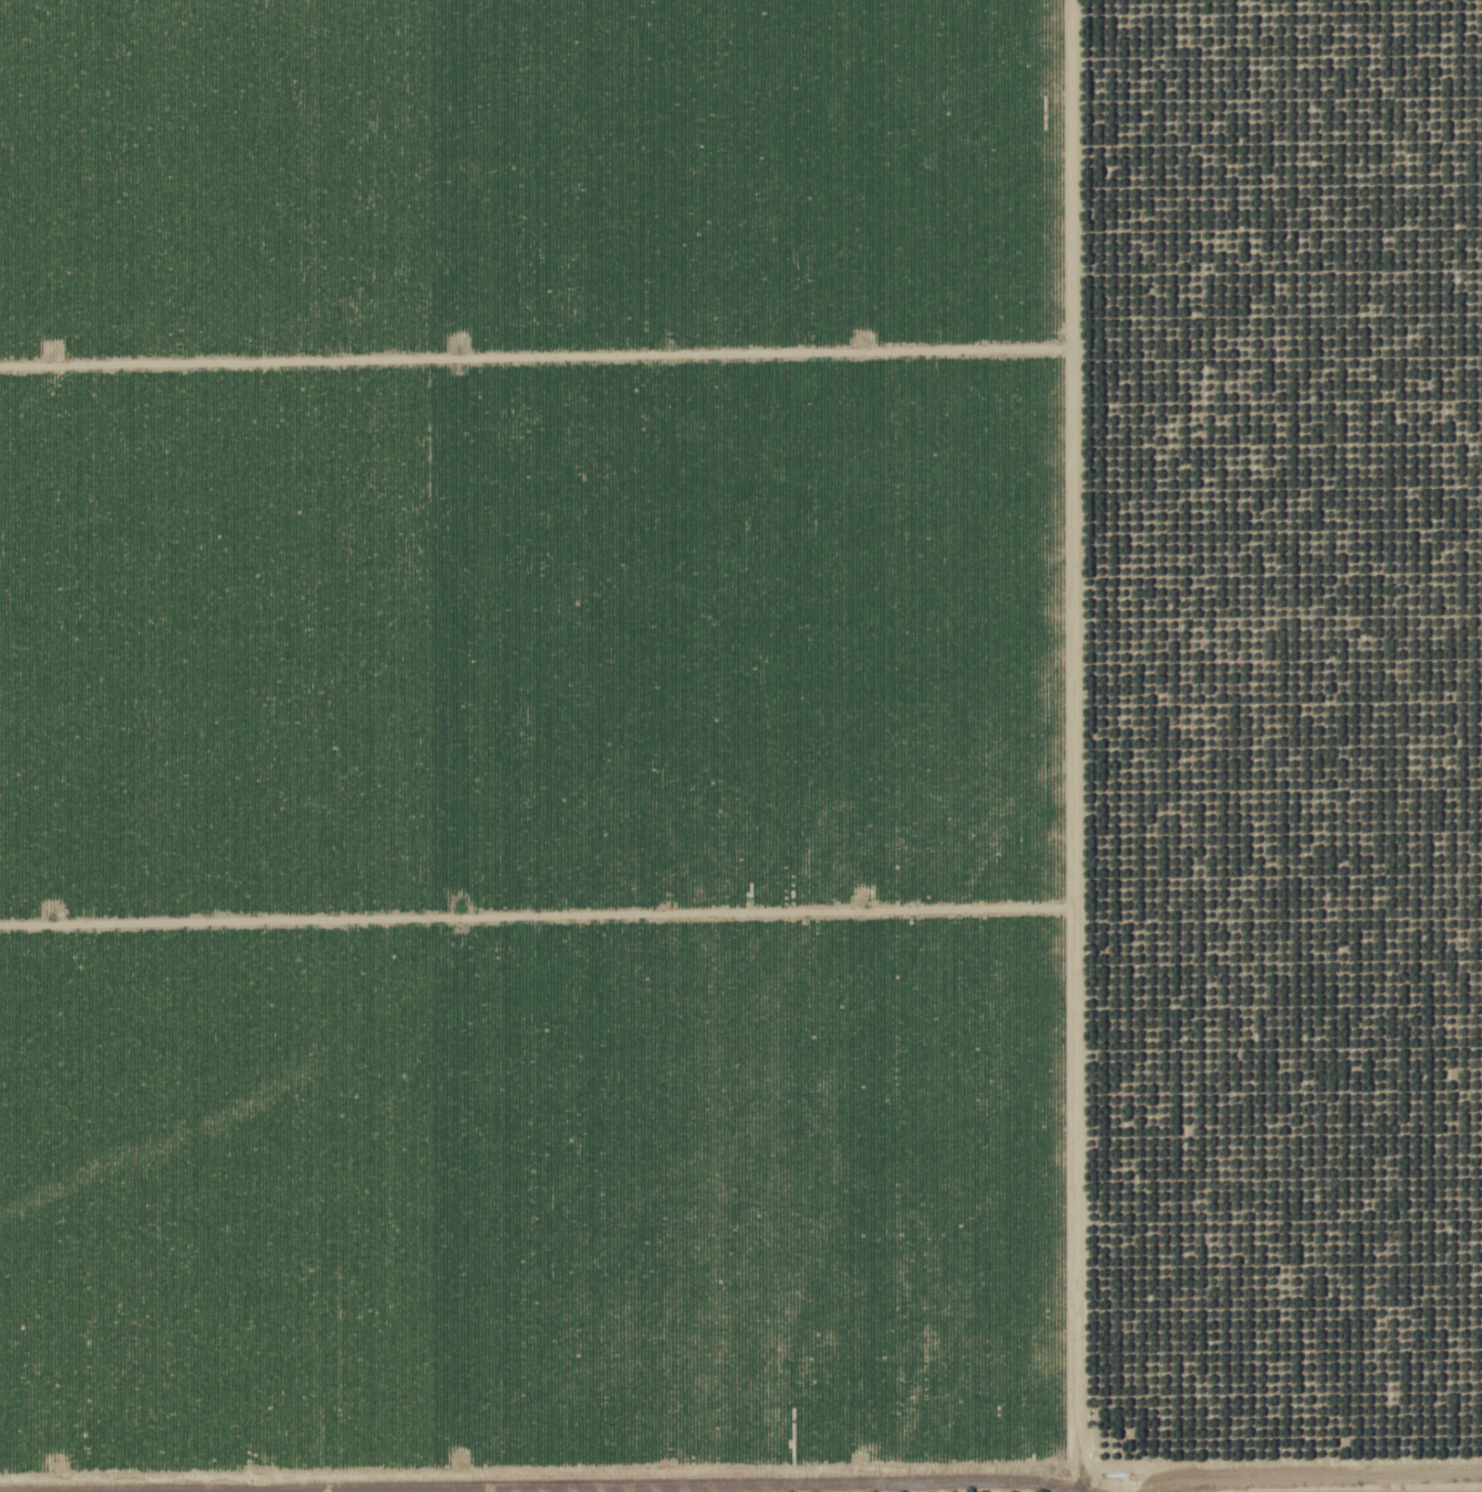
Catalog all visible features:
crop: (530, 738)
road: (1085, 746)

